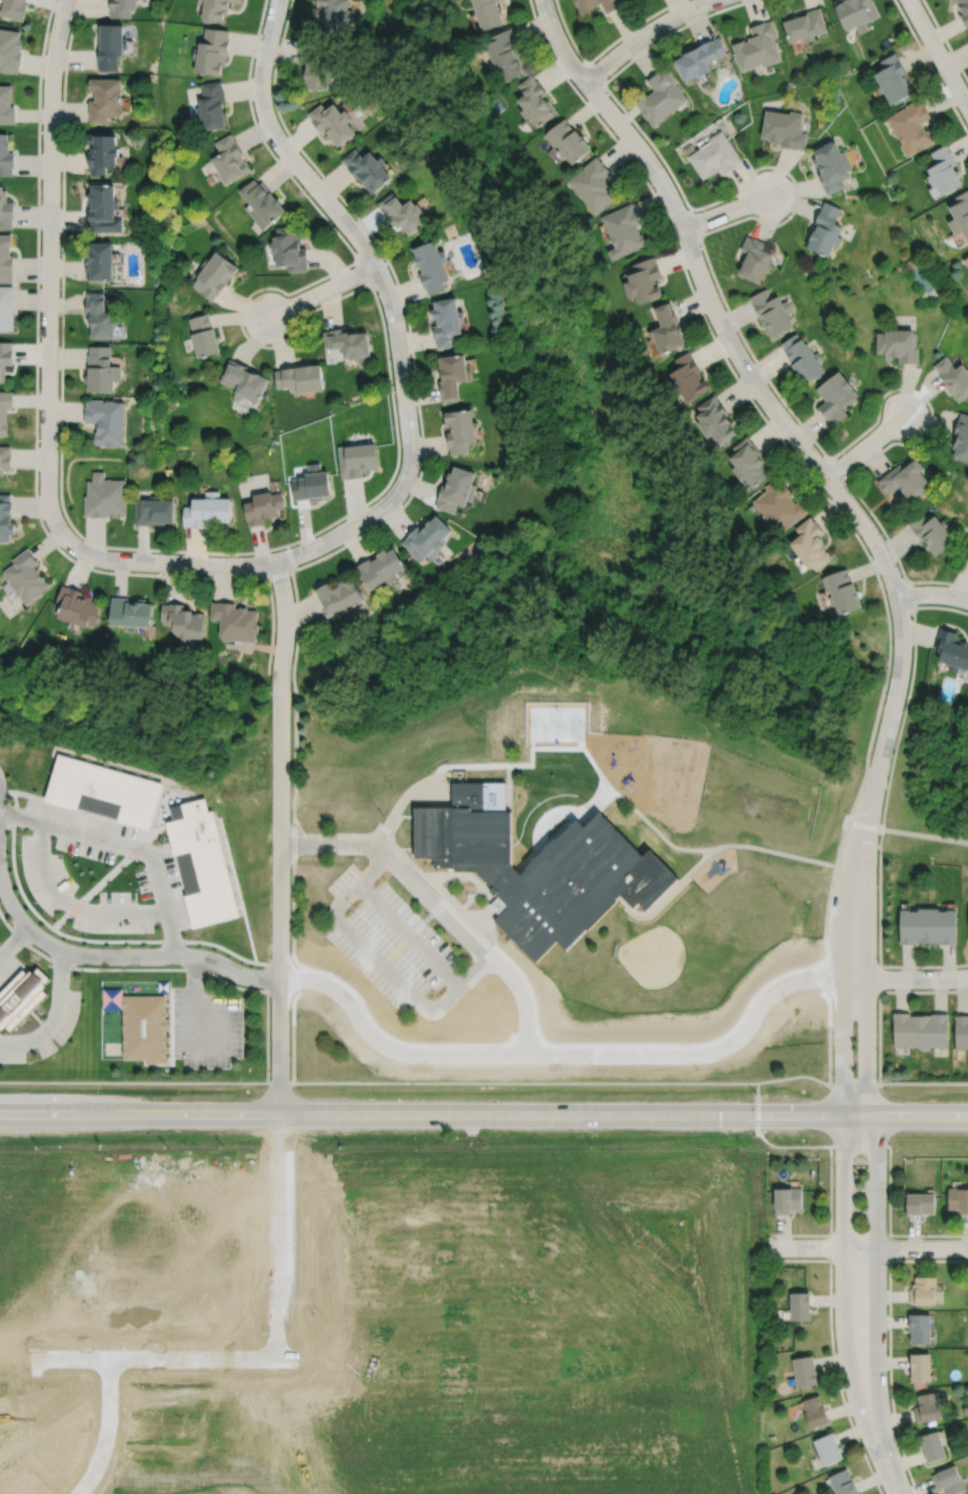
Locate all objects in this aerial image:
building: (237, 0)
building: (121, 7)
building: (14, 8)
building: (214, 9)
building: (584, 9)
building: (963, 10)
building: (489, 12)
building: (857, 12)
building: (334, 14)
street lamp: (72, 18)
building: (805, 24)
street lamp: (261, 27)
road: (644, 35)
street lamp: (656, 38)
road: (945, 40)
building: (110, 44)
building: (757, 45)
street lamp: (946, 48)
building: (10, 49)
building: (212, 50)
road: (602, 51)
building: (504, 53)
road: (938, 53)
building: (699, 57)
street lamp: (581, 61)
building: (317, 65)
road: (931, 66)
road: (594, 73)
building: (894, 77)
building: (660, 95)
building: (105, 98)
building: (535, 101)
building: (6, 104)
building: (211, 105)
street lamp: (275, 113)
building: (332, 121)
building: (912, 126)
street lamp: (41, 128)
building: (784, 128)
building: (568, 140)
building: (102, 151)
building: (6, 156)
building: (714, 156)
building: (230, 159)
street lamp: (658, 159)
building: (832, 165)
building: (367, 168)
building: (946, 170)
building: (594, 185)
street lamp: (312, 198)
building: (262, 203)
building: (5, 209)
building: (103, 209)
road: (730, 210)
building: (404, 212)
street lamp: (752, 214)
building: (961, 214)
road: (693, 221)
building: (623, 230)
building: (826, 230)
street lamp: (60, 236)
building: (289, 248)
building: (6, 258)
building: (755, 259)
building: (967, 260)
building: (99, 262)
building: (432, 266)
road: (364, 271)
building: (215, 274)
building: (644, 281)
road: (322, 291)
street lamp: (375, 291)
road: (720, 294)
street lamp: (283, 295)
road: (389, 297)
street lamp: (722, 303)
building: (7, 308)
building: (772, 312)
building: (100, 317)
building: (447, 322)
building: (668, 330)
street lamp: (39, 335)
building: (204, 336)
building: (351, 345)
building: (899, 346)
building: (5, 358)
building: (803, 359)
building: (101, 370)
building: (453, 377)
road: (48, 378)
building: (954, 378)
building: (302, 379)
building: (689, 379)
building: (244, 381)
street lamp: (394, 387)
building: (836, 397)
road: (768, 403)
road: (753, 404)
building: (5, 411)
street lamp: (767, 418)
building: (106, 422)
building: (716, 422)
road: (420, 429)
building: (461, 431)
road: (35, 433)
building: (960, 436)
street lamp: (890, 440)
street lamp: (58, 446)
road: (865, 446)
building: (5, 459)
building: (358, 460)
building: (750, 463)
road: (836, 469)
building: (904, 480)
building: (313, 485)
building: (457, 491)
street lamp: (408, 494)
building: (104, 497)
road: (369, 501)
building: (780, 507)
building: (264, 509)
building: (154, 512)
building: (208, 512)
building: (6, 520)
building: (930, 531)
street lamp: (880, 533)
building: (427, 540)
street lamp: (296, 544)
building: (812, 546)
building: (967, 553)
street lamp: (182, 554)
building: (967, 555)
street lamp: (75, 558)
building: (381, 570)
road: (279, 572)
building: (26, 578)
building: (844, 593)
road: (911, 593)
road: (932, 594)
building: (340, 600)
street lamp: (920, 604)
road: (940, 606)
building: (78, 609)
building: (132, 615)
building: (185, 623)
building: (237, 623)
building: (951, 650)
street lamp: (885, 667)
street lamp: (269, 686)
road: (902, 718)
road: (458, 766)
road: (592, 776)
street lamp: (887, 777)
road: (508, 778)
road: (432, 789)
park: (926, 789)
building: (103, 791)
road: (593, 801)
road: (394, 815)
street lamp: (270, 816)
road: (400, 819)
road: (864, 825)
road: (656, 829)
road: (533, 831)
street lamp: (301, 833)
road: (925, 835)
road: (280, 836)
road: (346, 836)
road: (294, 838)
road: (840, 843)
road: (126, 845)
road: (329, 845)
road: (780, 852)
road: (407, 856)
street lamp: (833, 859)
road: (707, 861)
building: (201, 863)
parking lot: (42, 866)
building: (539, 868)
street lamp: (876, 869)
road: (464, 877)
road: (357, 886)
road: (439, 888)
building: (497, 903)
road: (663, 903)
road: (879, 903)
road: (72, 905)
street lamp: (353, 907)
road: (293, 911)
road: (464, 913)
road: (485, 919)
street lamp: (432, 921)
building: (913, 924)
building: (942, 924)
road: (415, 932)
street lamp: (147, 934)
road: (411, 935)
road: (13, 938)
parking lot: (389, 939)
road: (472, 939)
street lamp: (269, 943)
street lamp: (493, 944)
road: (71, 952)
street lamp: (824, 961)
street lamp: (877, 961)
parking lot: (6, 965)
road: (923, 966)
street lamp: (303, 968)
street lamp: (960, 968)
road: (842, 969)
road: (866, 970)
road: (387, 971)
road: (236, 974)
road: (830, 975)
road: (917, 979)
road: (196, 980)
road: (462, 987)
road: (238, 988)
street lamp: (432, 990)
street lamp: (354, 991)
road: (923, 991)
building: (20, 995)
building: (112, 998)
road: (54, 1014)
parking lot: (43, 1028)
building: (145, 1028)
building: (906, 1028)
parking lot: (207, 1029)
building: (933, 1029)
road: (294, 1031)
road: (879, 1031)
building: (961, 1031)
road: (226, 1049)
road: (571, 1053)
street lamp: (269, 1069)
street lamp: (833, 1075)
road: (795, 1077)
street lamp: (876, 1077)
road: (525, 1082)
road: (133, 1083)
road: (281, 1083)
road: (923, 1083)
road: (854, 1085)
road: (758, 1109)
road: (422, 1115)
road: (830, 1115)
road: (906, 1116)
road: (792, 1146)
road: (859, 1146)
road: (830, 1190)
road: (889, 1190)
building: (786, 1200)
building: (958, 1200)
building: (920, 1204)
building: (423, 1227)
road: (867, 1247)
road: (876, 1283)
road: (842, 1287)
building: (923, 1291)
building: (799, 1306)
crop: (380, 1310)
building: (919, 1328)
building: (920, 1367)
building: (804, 1371)
building: (927, 1408)
building: (814, 1411)
building: (932, 1446)
building: (827, 1449)
road: (890, 1472)
building: (948, 1480)
building: (843, 1483)

